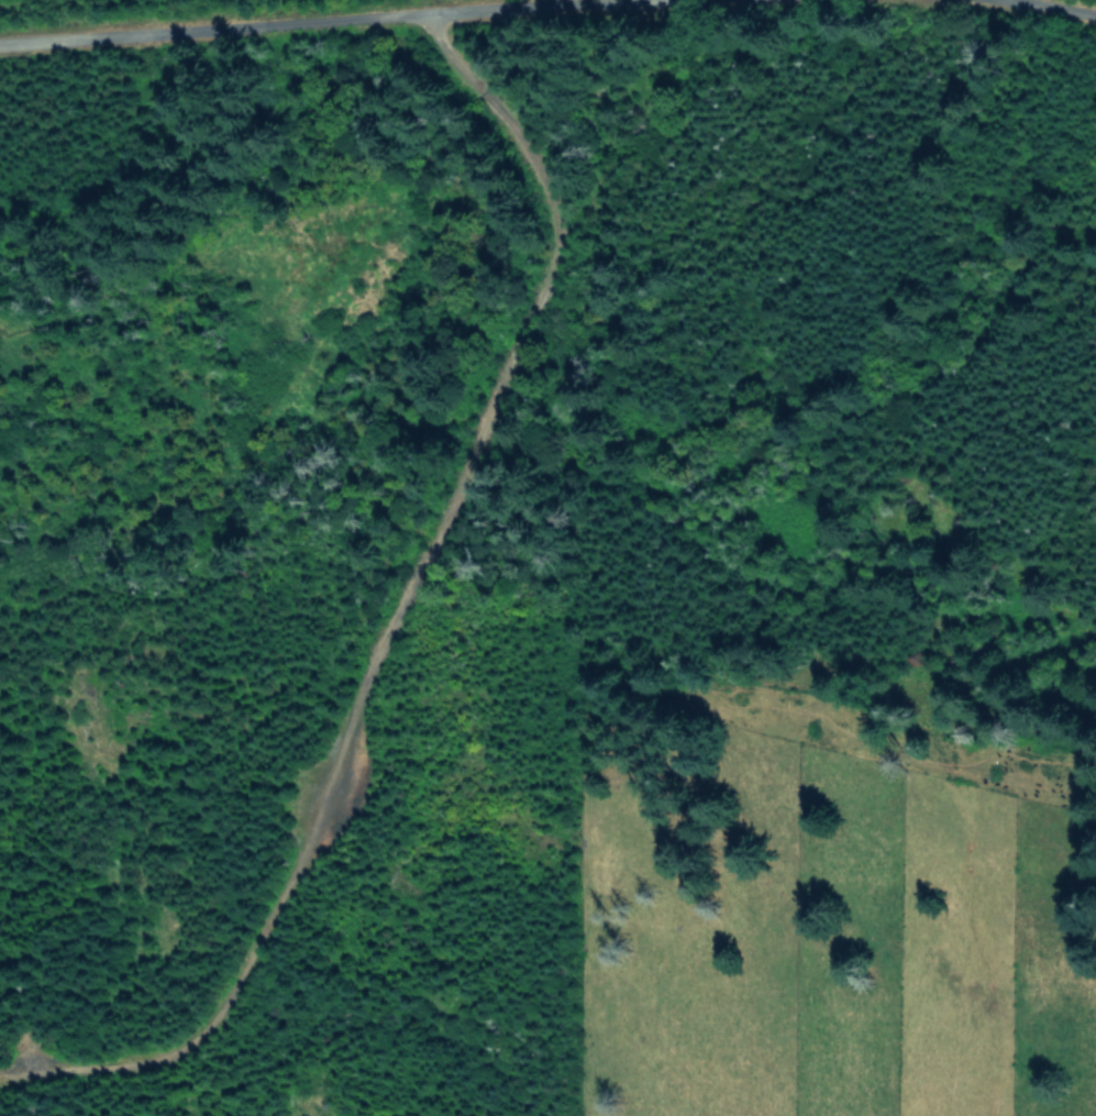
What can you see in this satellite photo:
road: (1061, 7)
road: (333, 14)

